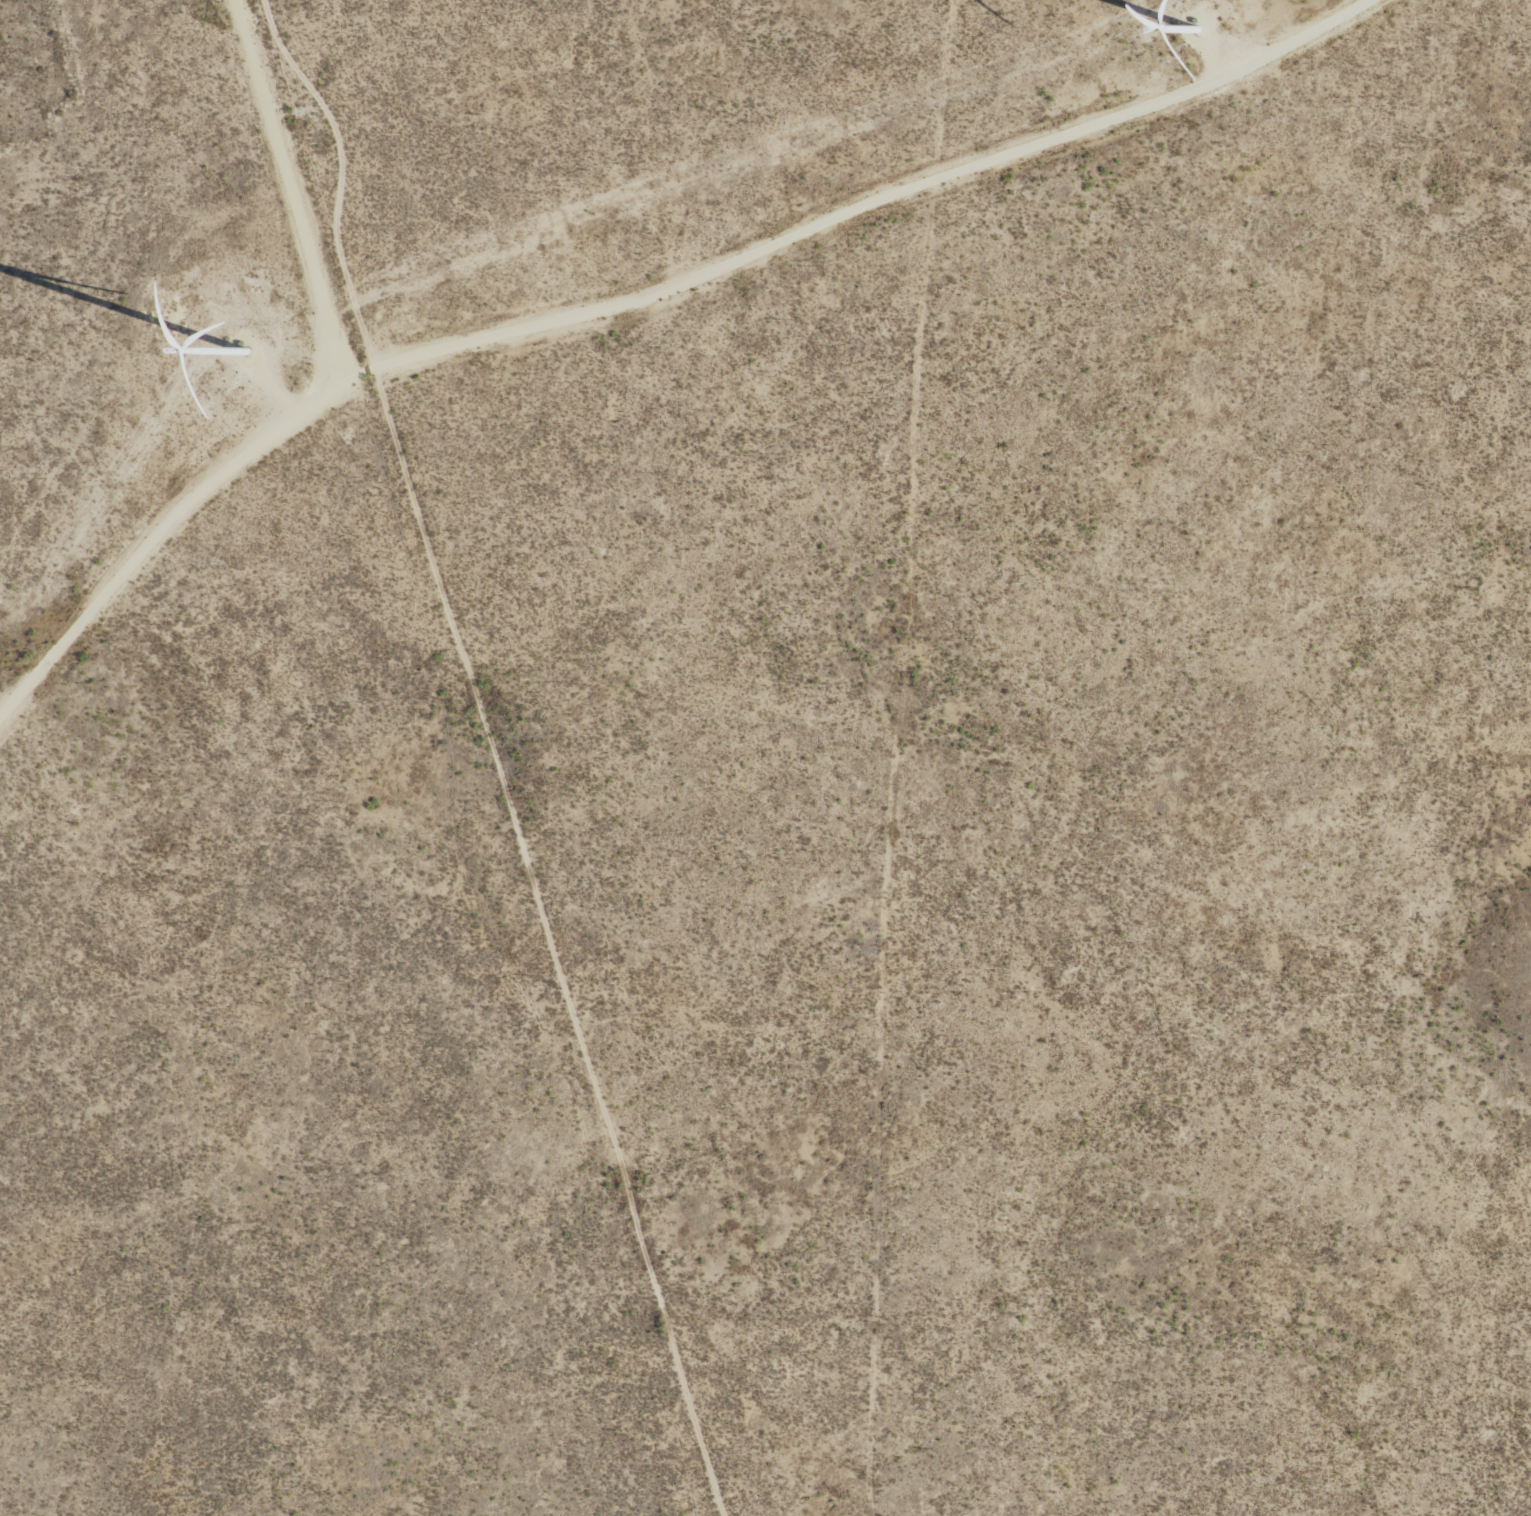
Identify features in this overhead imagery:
wind turbine: (1195, 29)
wind turbine: (246, 350)
road: (449, 754)

